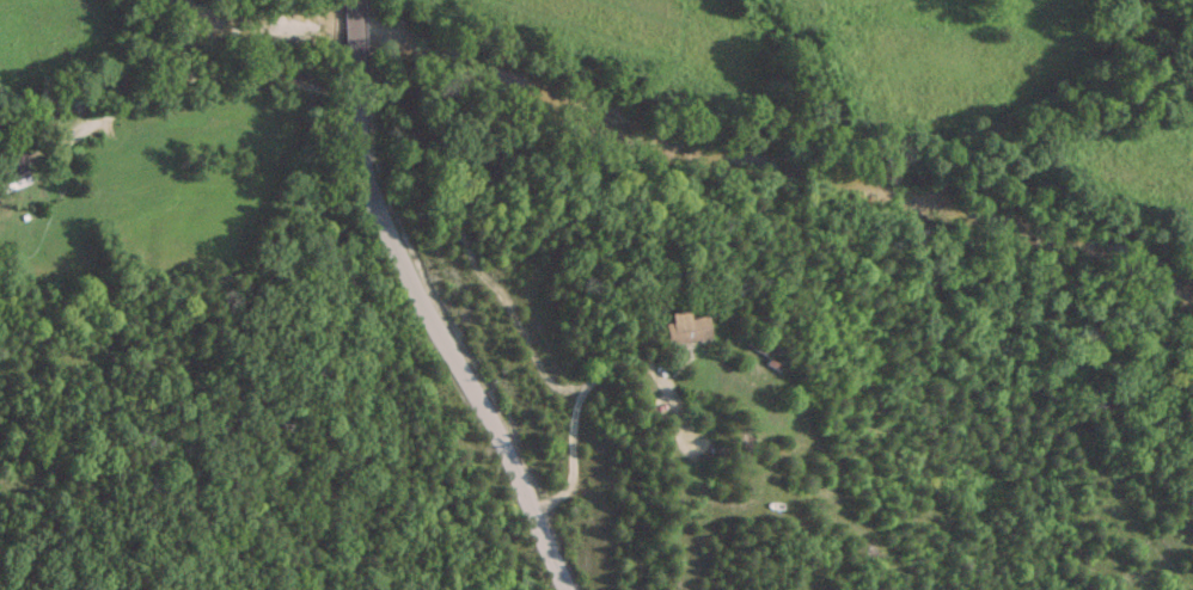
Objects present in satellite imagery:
road: (204, 74)
building: (12, 168)
road: (427, 305)
building: (684, 327)
road: (765, 355)

